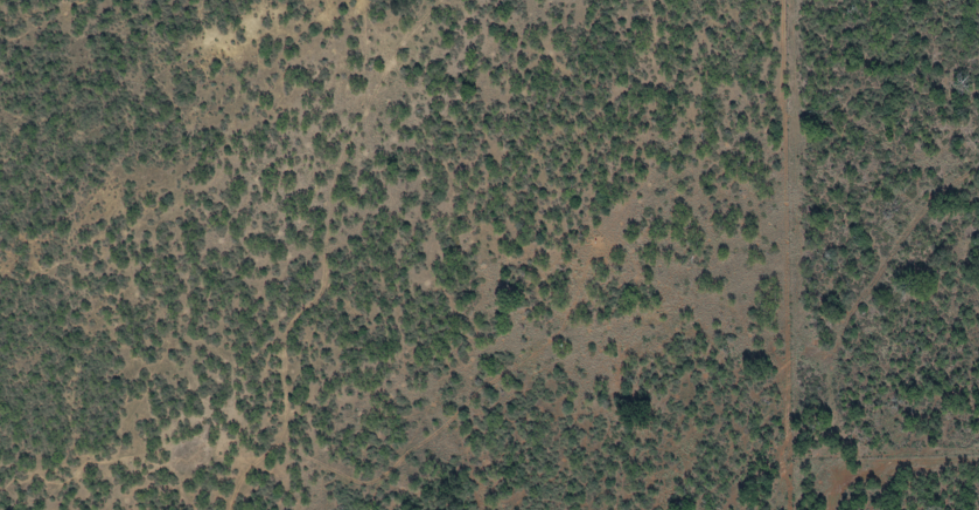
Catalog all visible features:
road: (292, 249)
road: (794, 255)

